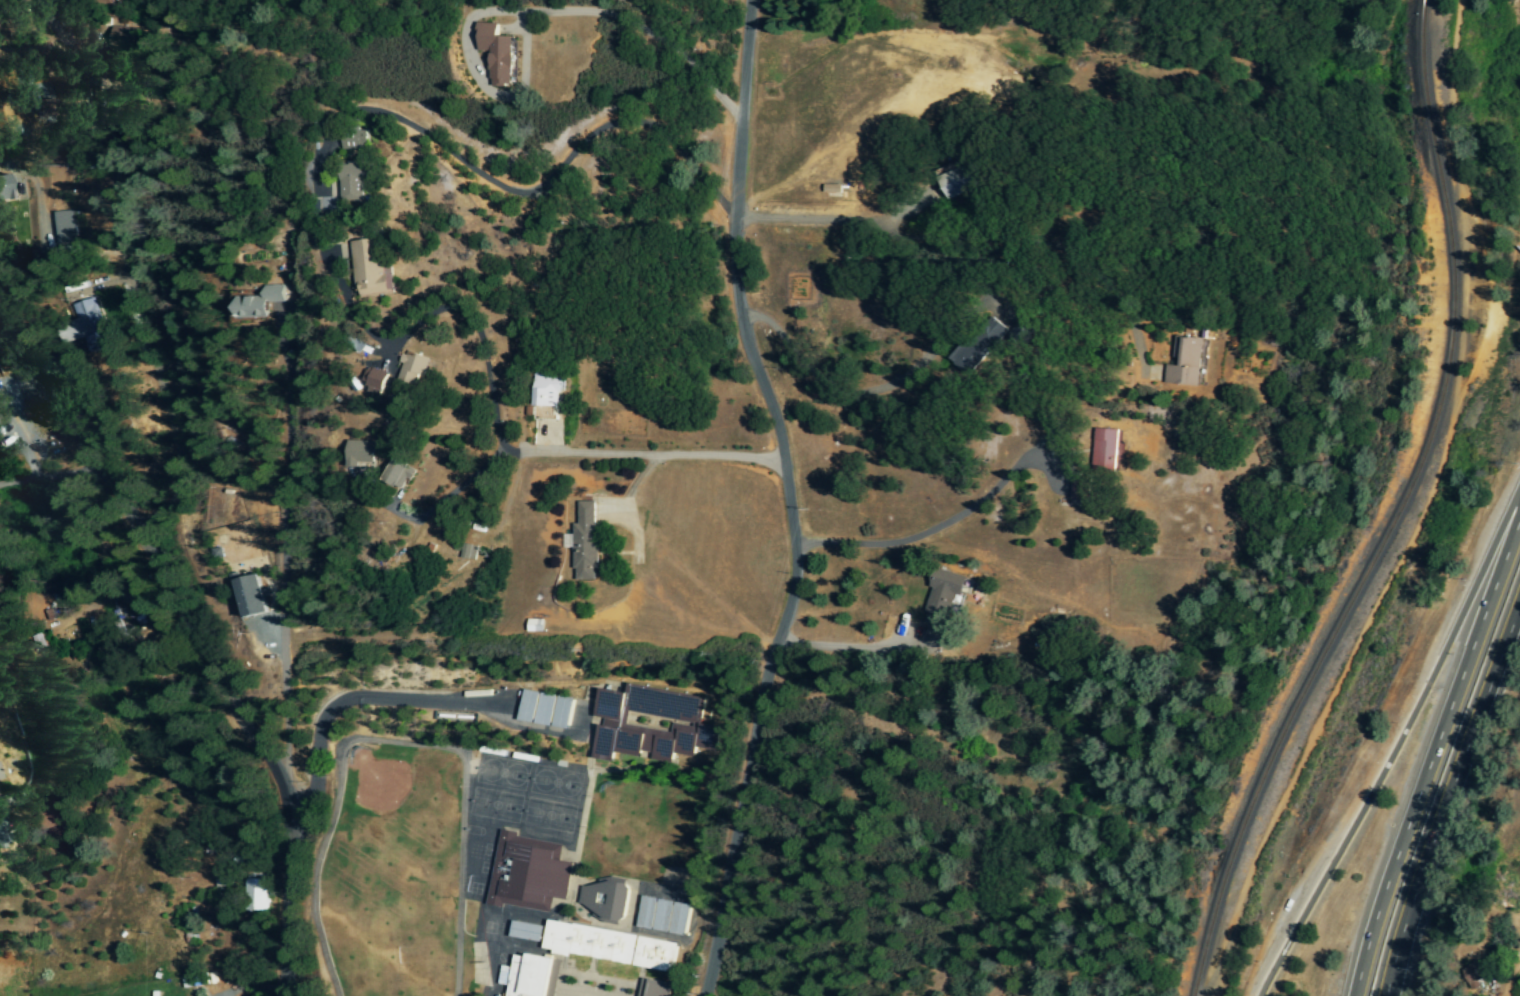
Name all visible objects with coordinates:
road: (634, 26)
building: (123, 38)
building: (495, 54)
building: (352, 140)
building: (953, 182)
building: (349, 183)
road: (535, 187)
road: (834, 221)
building: (63, 231)
building: (368, 270)
building: (257, 303)
building: (88, 326)
building: (976, 347)
building: (1185, 363)
building: (411, 368)
road: (234, 371)
building: (373, 381)
road: (868, 389)
building: (543, 397)
building: (1104, 449)
road: (642, 452)
building: (357, 453)
building: (397, 474)
road: (441, 496)
road: (786, 499)
railway: (1399, 514)
road: (946, 522)
building: (582, 541)
building: (466, 552)
building: (249, 597)
building: (941, 597)
road: (853, 649)
road: (155, 689)
road: (207, 701)
road: (328, 710)
building: (543, 710)
building: (643, 733)
road: (1393, 747)
road: (1431, 753)
road: (1448, 809)
building: (527, 874)
building: (257, 896)
building: (604, 899)
building: (662, 916)
building: (524, 932)
building: (525, 976)
building: (652, 988)

